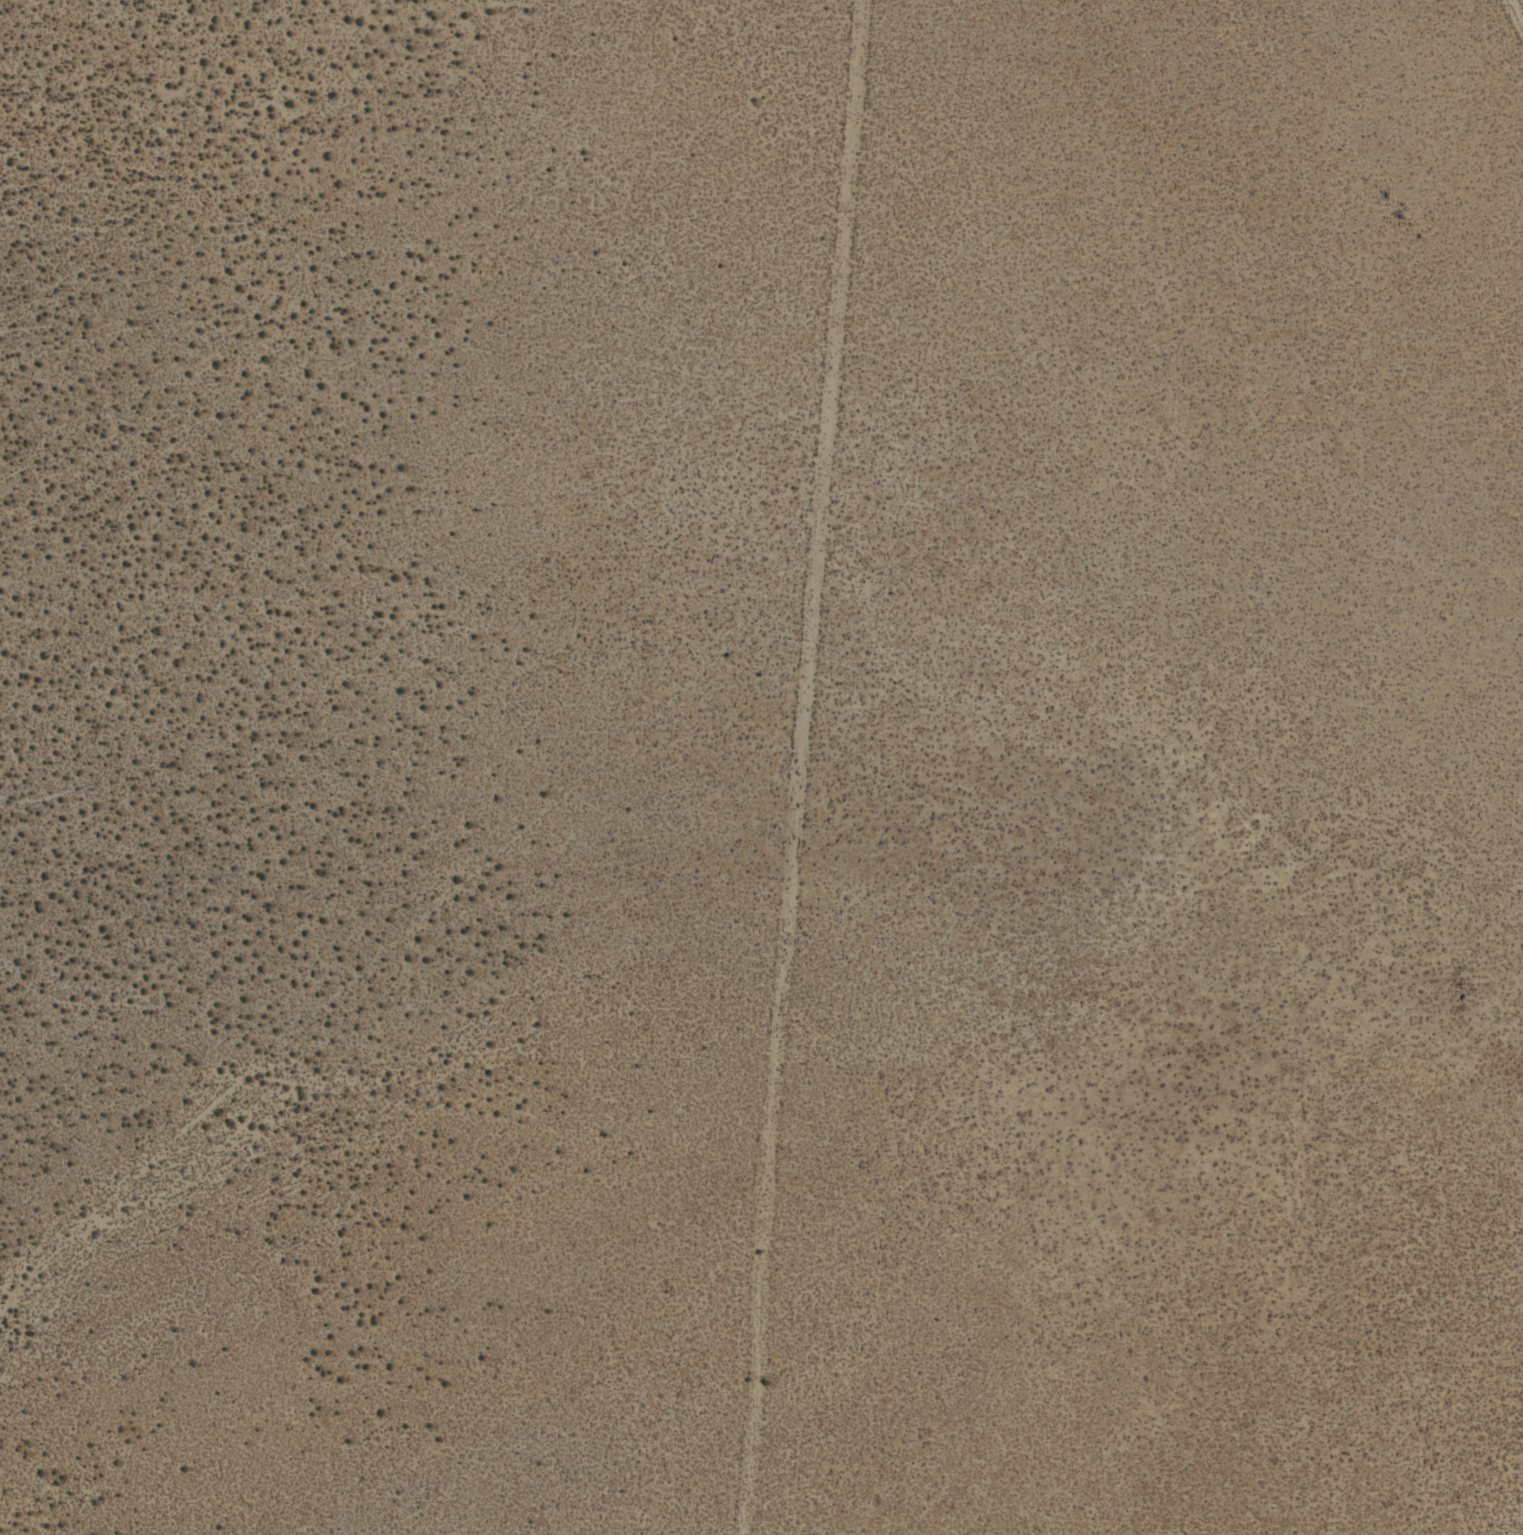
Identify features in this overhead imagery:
road: (810, 767)

